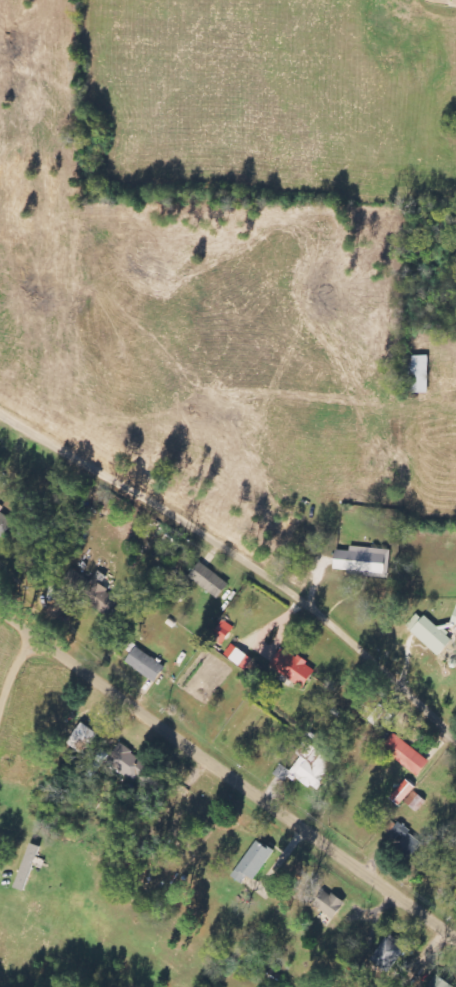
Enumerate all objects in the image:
building: (419, 375)
building: (4, 523)
road: (238, 558)
building: (364, 562)
building: (163, 576)
building: (209, 580)
building: (100, 596)
building: (454, 620)
building: (223, 633)
building: (433, 636)
building: (236, 655)
building: (146, 665)
building: (293, 668)
road: (19, 692)
building: (83, 739)
building: (406, 755)
building: (129, 763)
building: (310, 768)
road: (228, 773)
building: (403, 793)
building: (414, 800)
building: (406, 839)
building: (254, 862)
building: (28, 867)
building: (330, 905)
building: (388, 955)
building: (440, 983)

